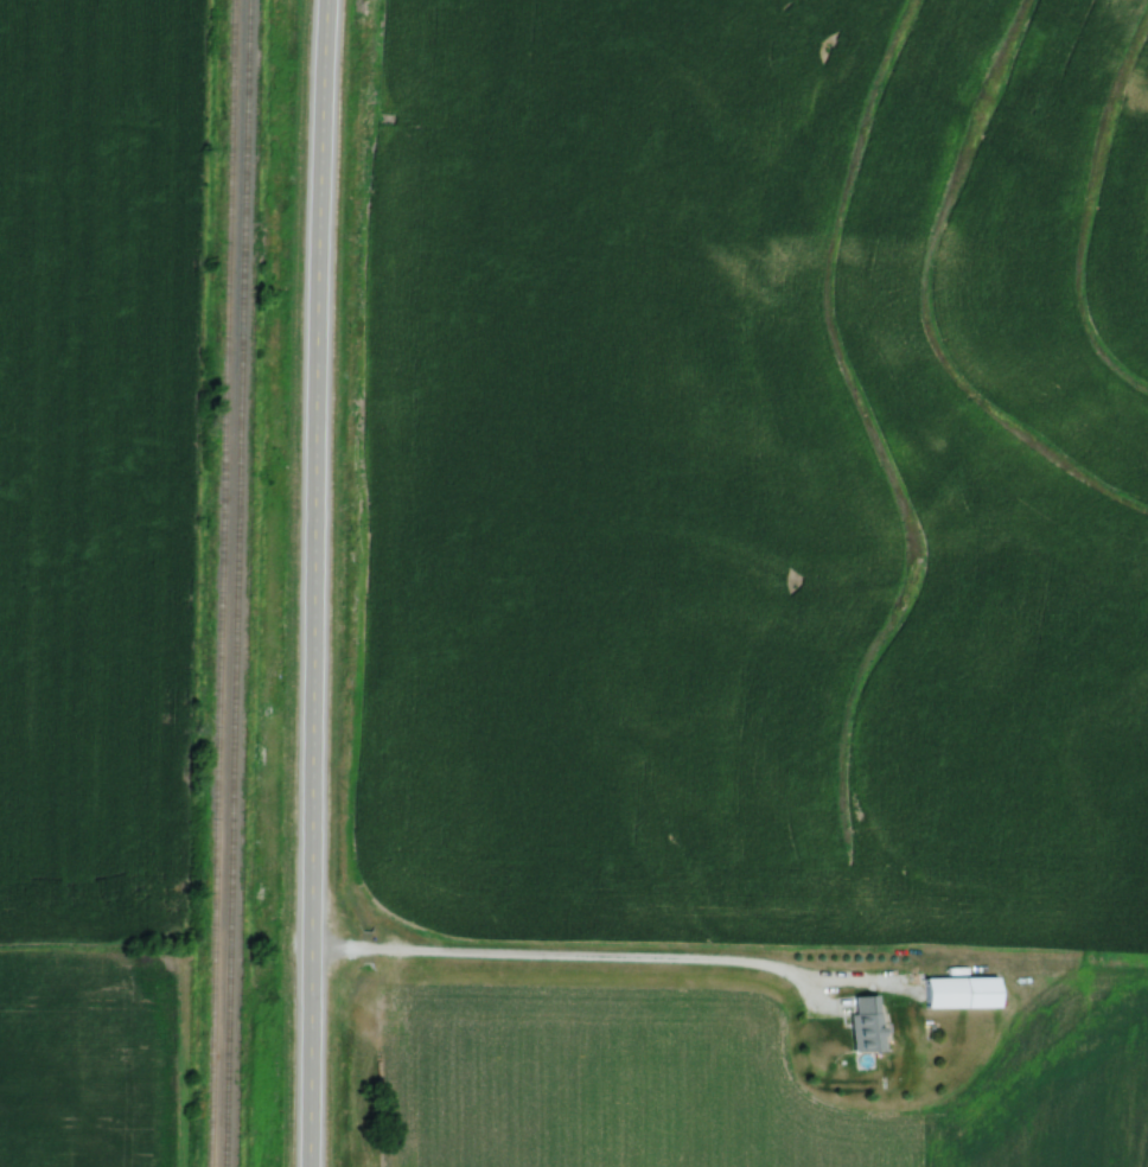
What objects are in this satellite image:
crop: (95, 461)
road: (311, 582)
railway: (216, 583)
railway: (230, 583)
road: (574, 957)
building: (958, 990)
building: (866, 1023)

